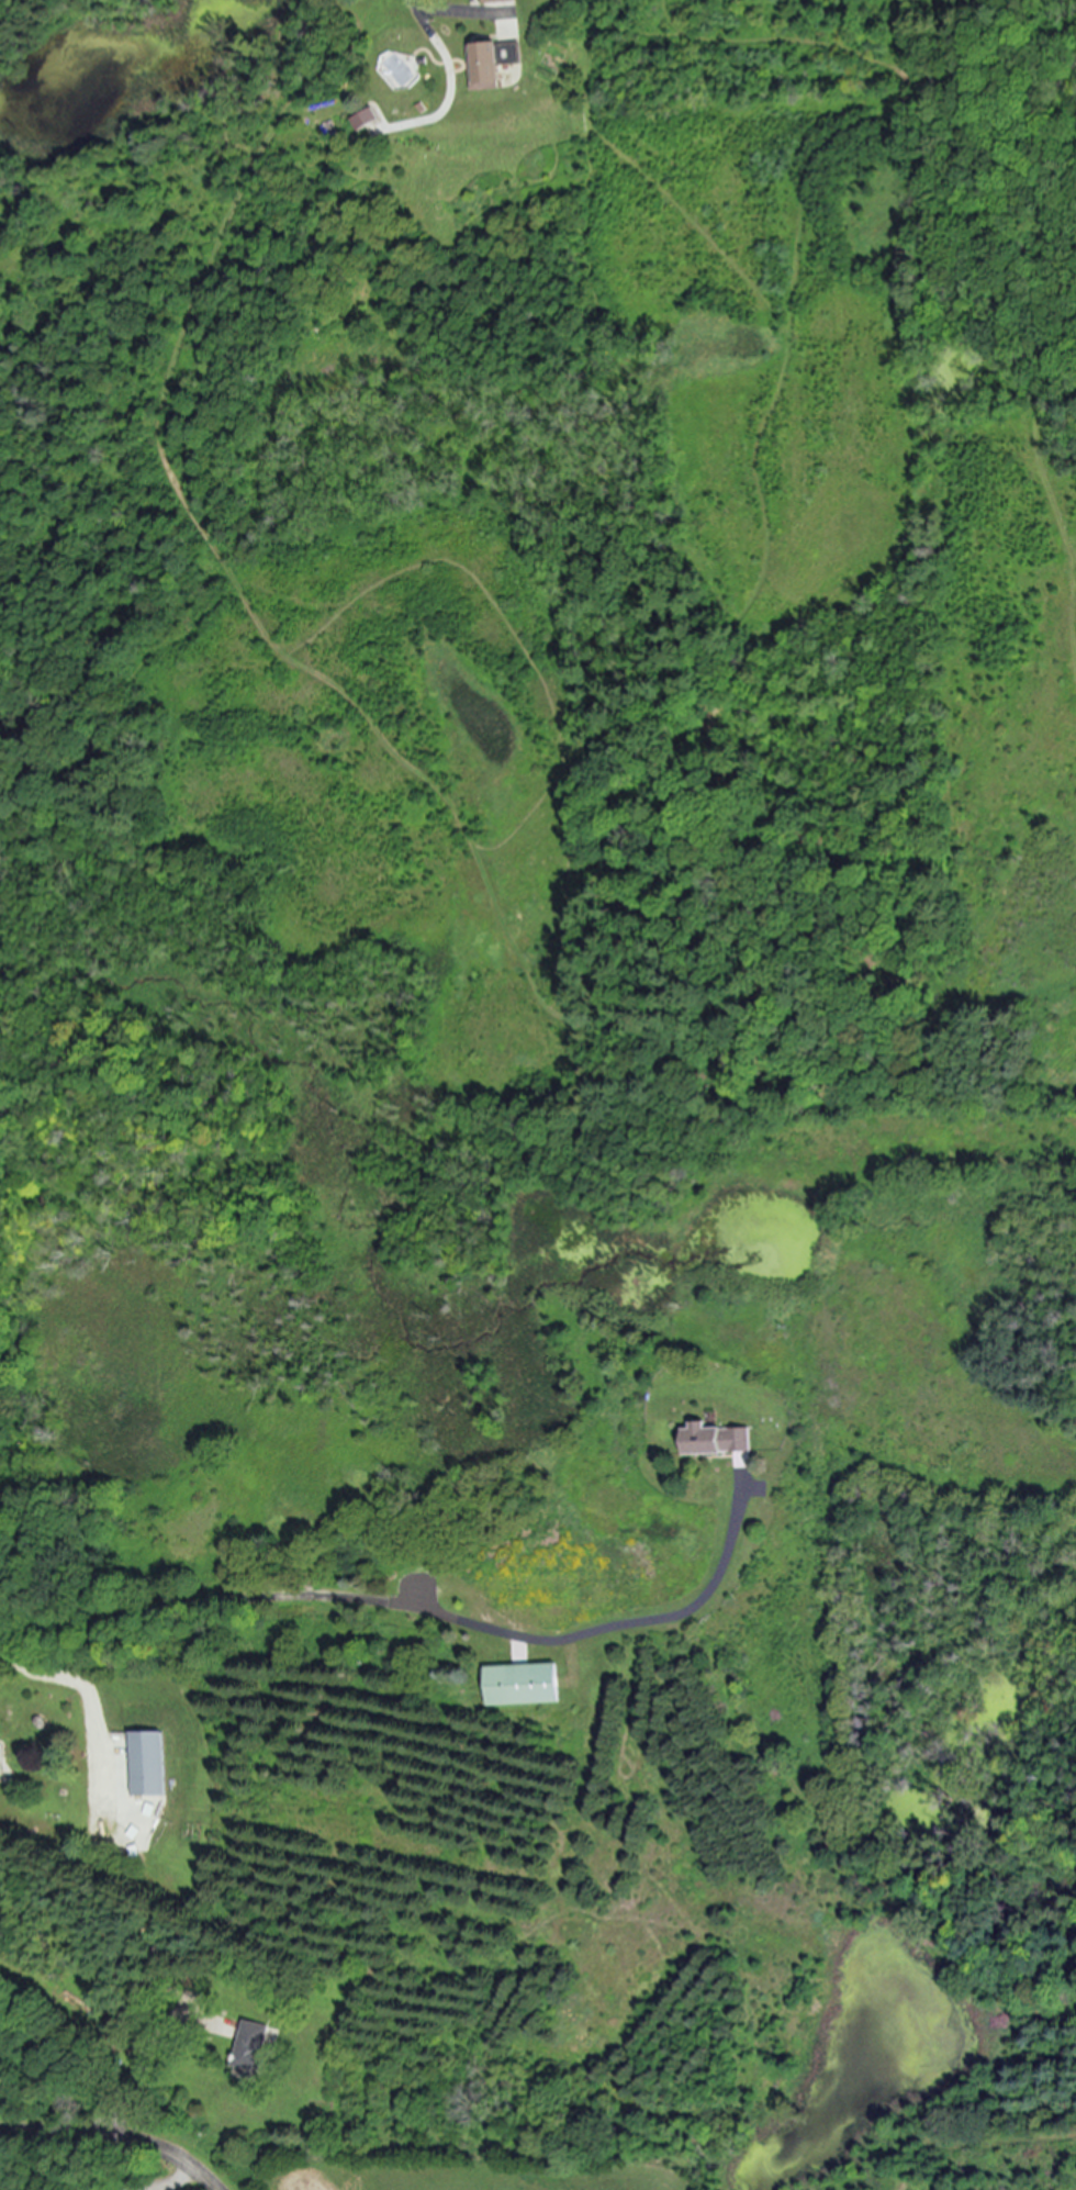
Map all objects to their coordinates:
building: (492, 1)
road: (416, 5)
building: (489, 63)
building: (365, 119)
building: (714, 1440)
road: (412, 1605)
building: (519, 1685)
road: (94, 1697)
building: (145, 1764)
building: (249, 2046)
road: (119, 2134)
road: (175, 2181)

